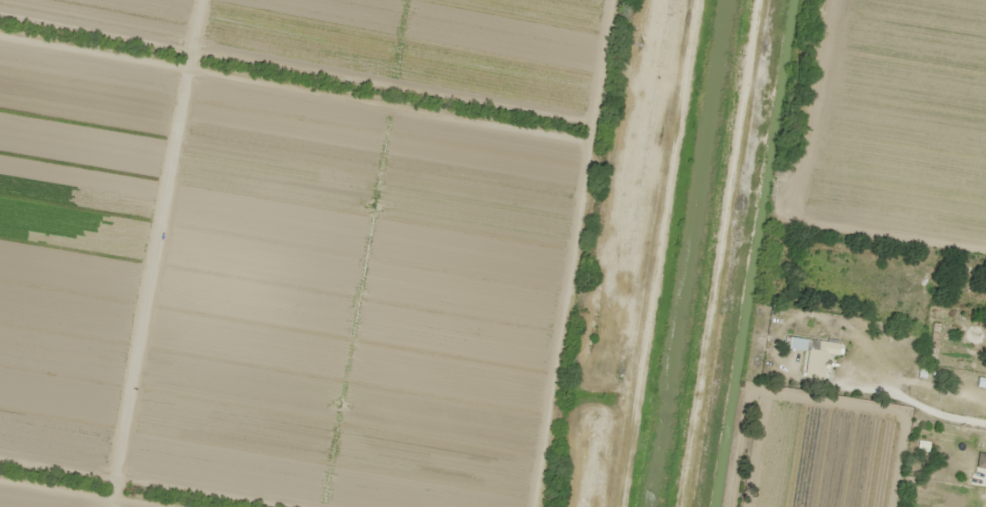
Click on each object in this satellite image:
building: (982, 346)
building: (817, 357)
building: (911, 490)
building: (984, 505)

